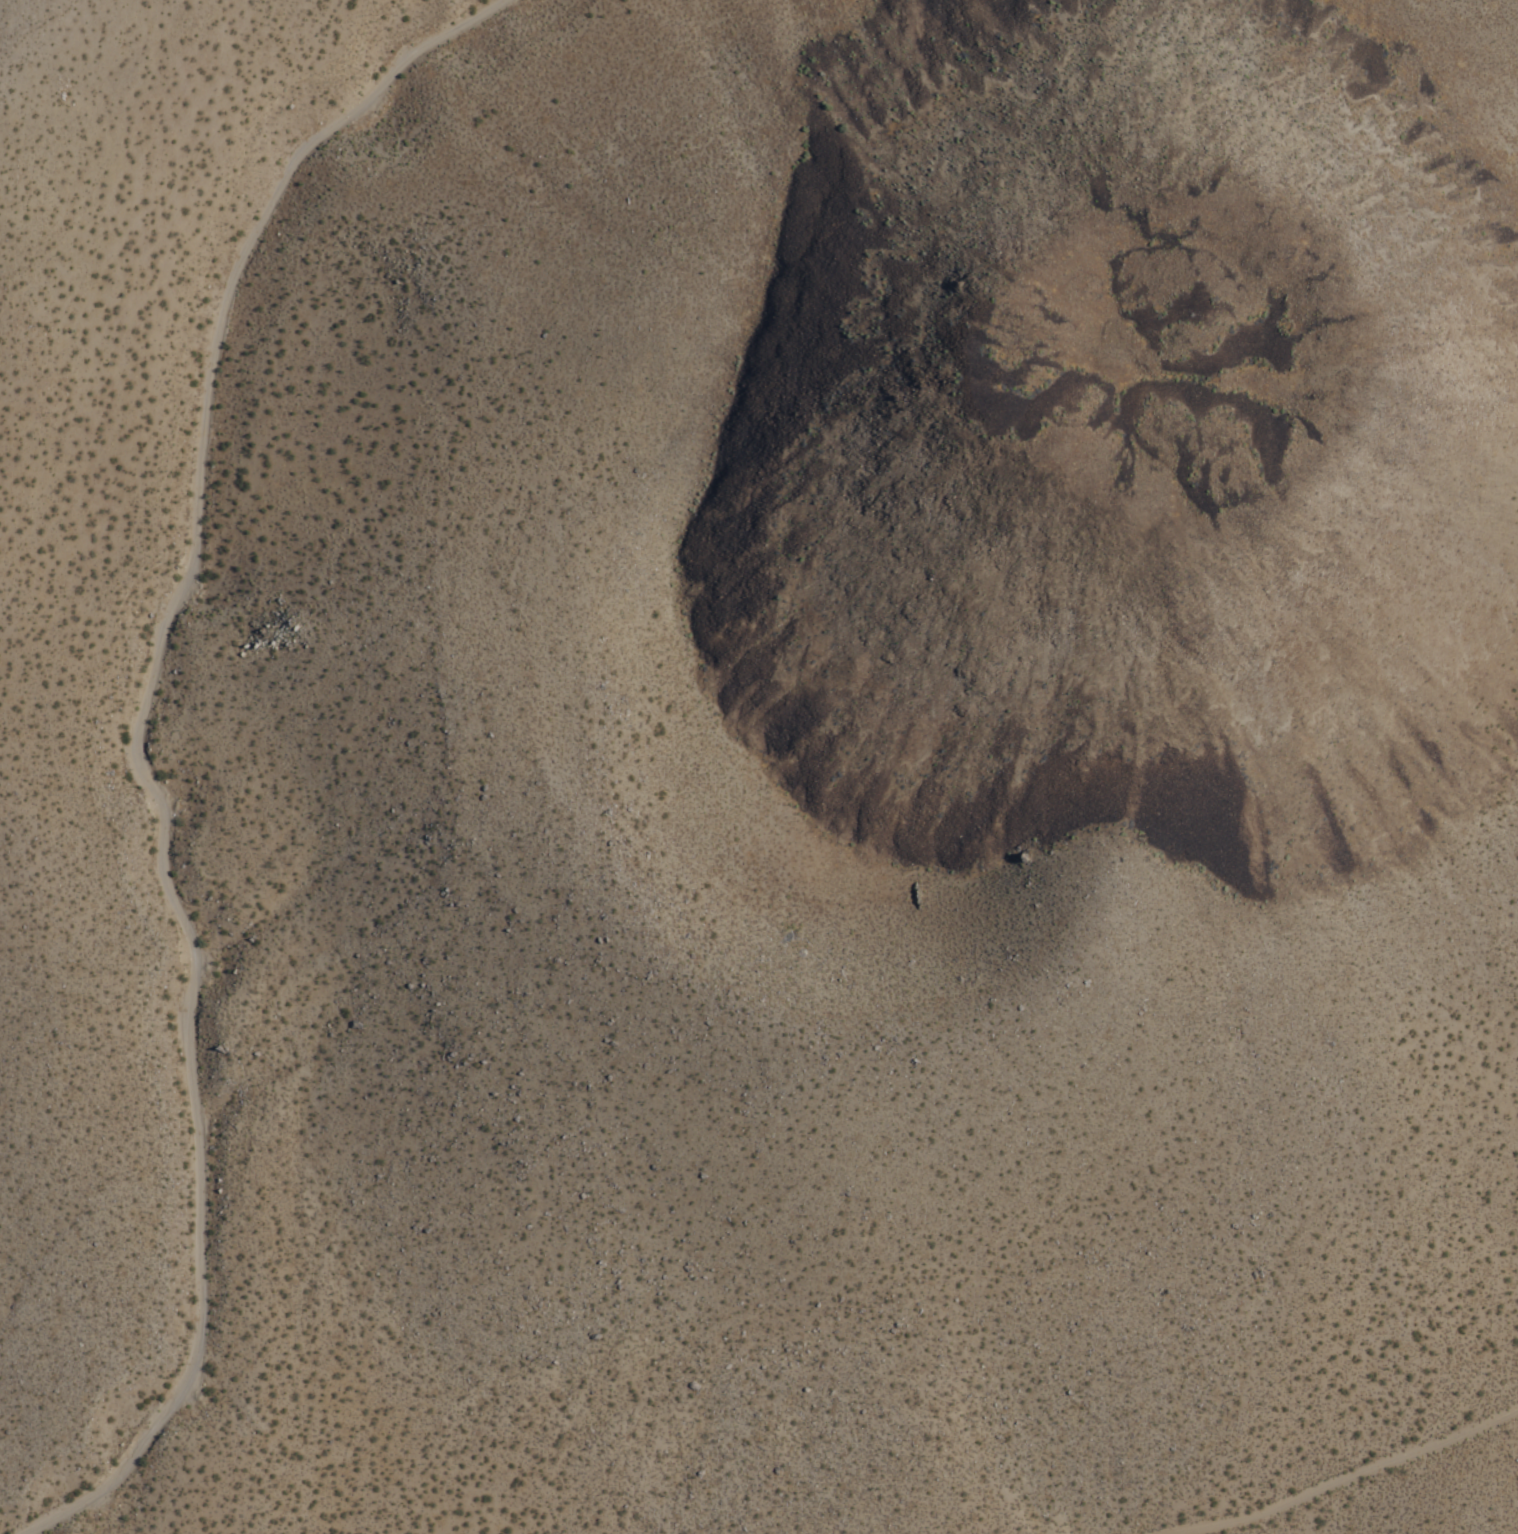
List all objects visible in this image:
road: (1340, 1476)

